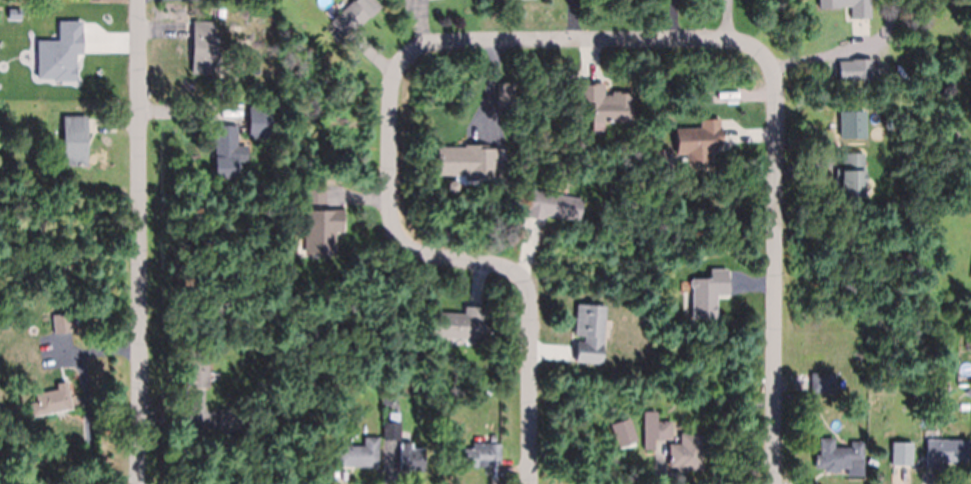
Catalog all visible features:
building: (859, 12)
building: (353, 18)
road: (607, 37)
building: (203, 46)
building: (931, 65)
building: (855, 72)
building: (505, 91)
building: (606, 105)
building: (259, 119)
building: (3, 132)
building: (75, 140)
building: (700, 142)
building: (225, 151)
building: (469, 163)
building: (853, 176)
building: (314, 195)
building: (554, 207)
building: (321, 232)
road: (139, 242)
road: (452, 261)
road: (774, 273)
building: (709, 295)
building: (61, 323)
building: (455, 324)
building: (590, 334)
building: (504, 362)
building: (197, 366)
building: (926, 368)
building: (823, 382)
building: (421, 384)
building: (915, 389)
building: (921, 389)
building: (908, 391)
building: (49, 401)
building: (338, 401)
building: (394, 409)
building: (393, 416)
building: (230, 419)
building: (655, 429)
building: (391, 430)
building: (945, 451)
building: (358, 453)
building: (901, 453)
building: (478, 454)
building: (685, 455)
building: (840, 456)
building: (413, 460)
building: (923, 471)

